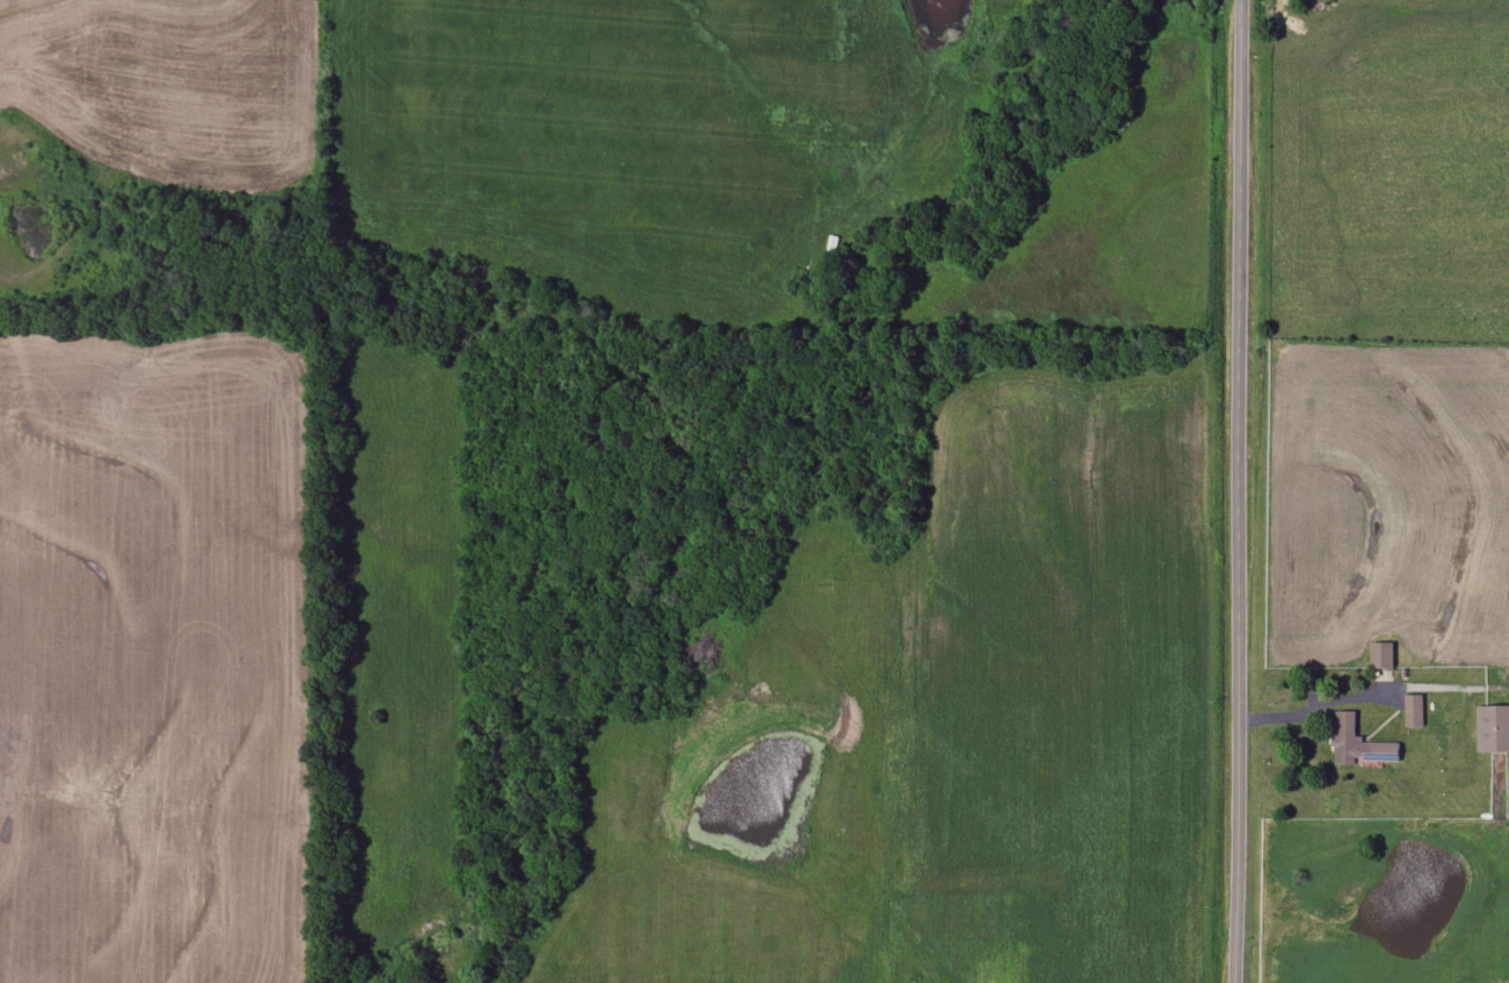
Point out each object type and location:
road: (1239, 491)
building: (1382, 658)
building: (1414, 710)
building: (1493, 728)
building: (1355, 742)

